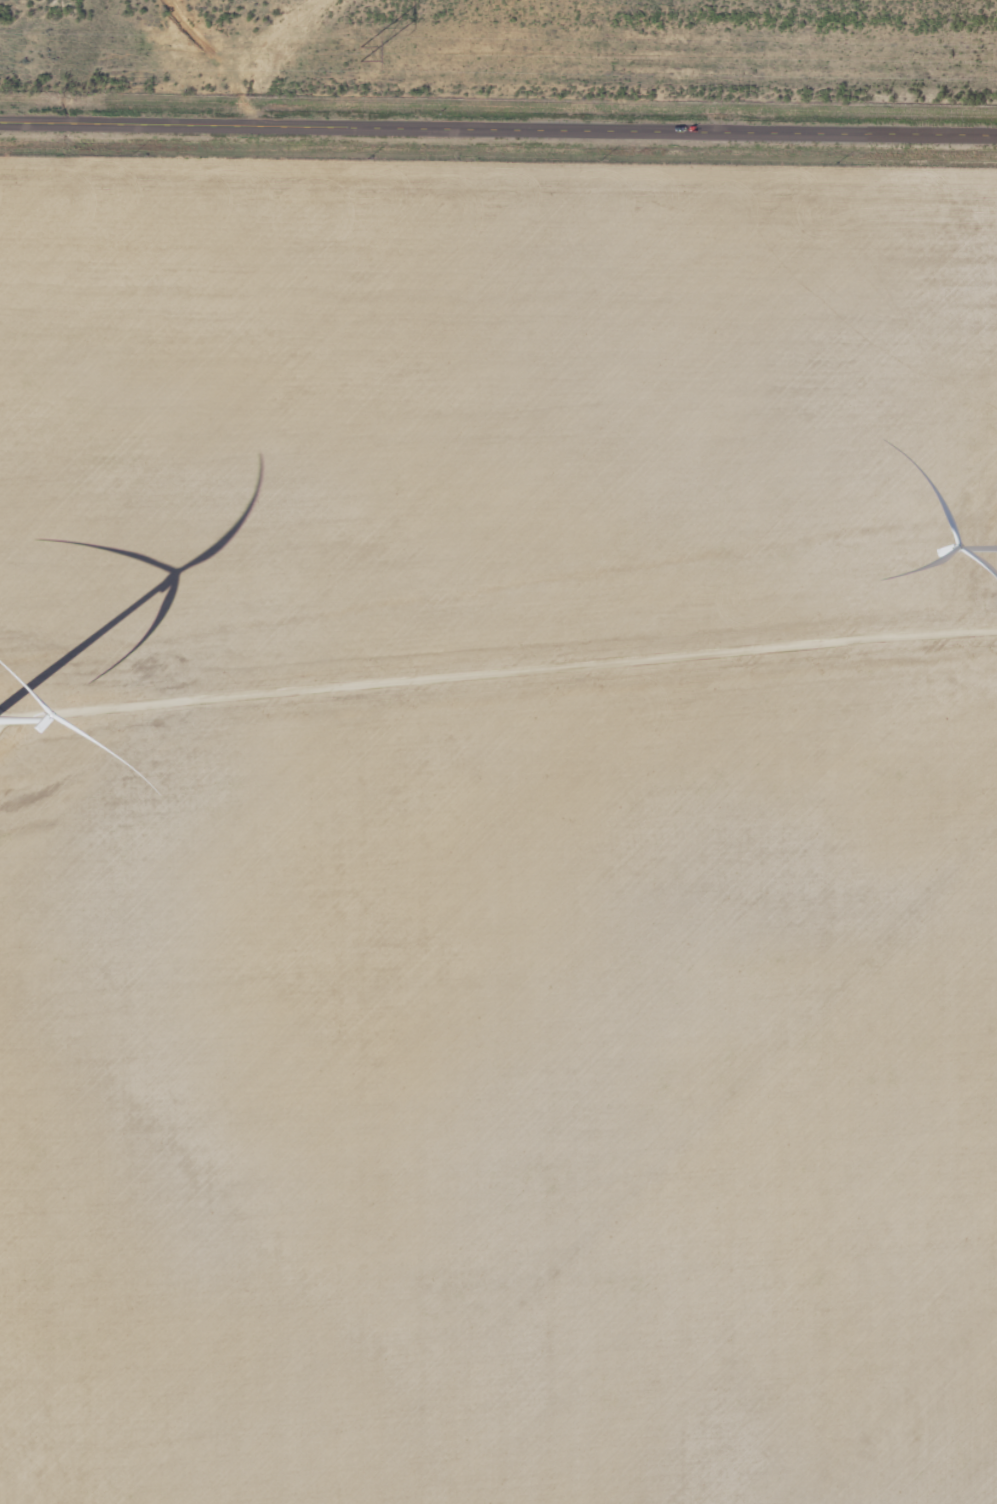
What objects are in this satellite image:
power tower: (364, 54)
road: (139, 63)
road: (498, 131)

